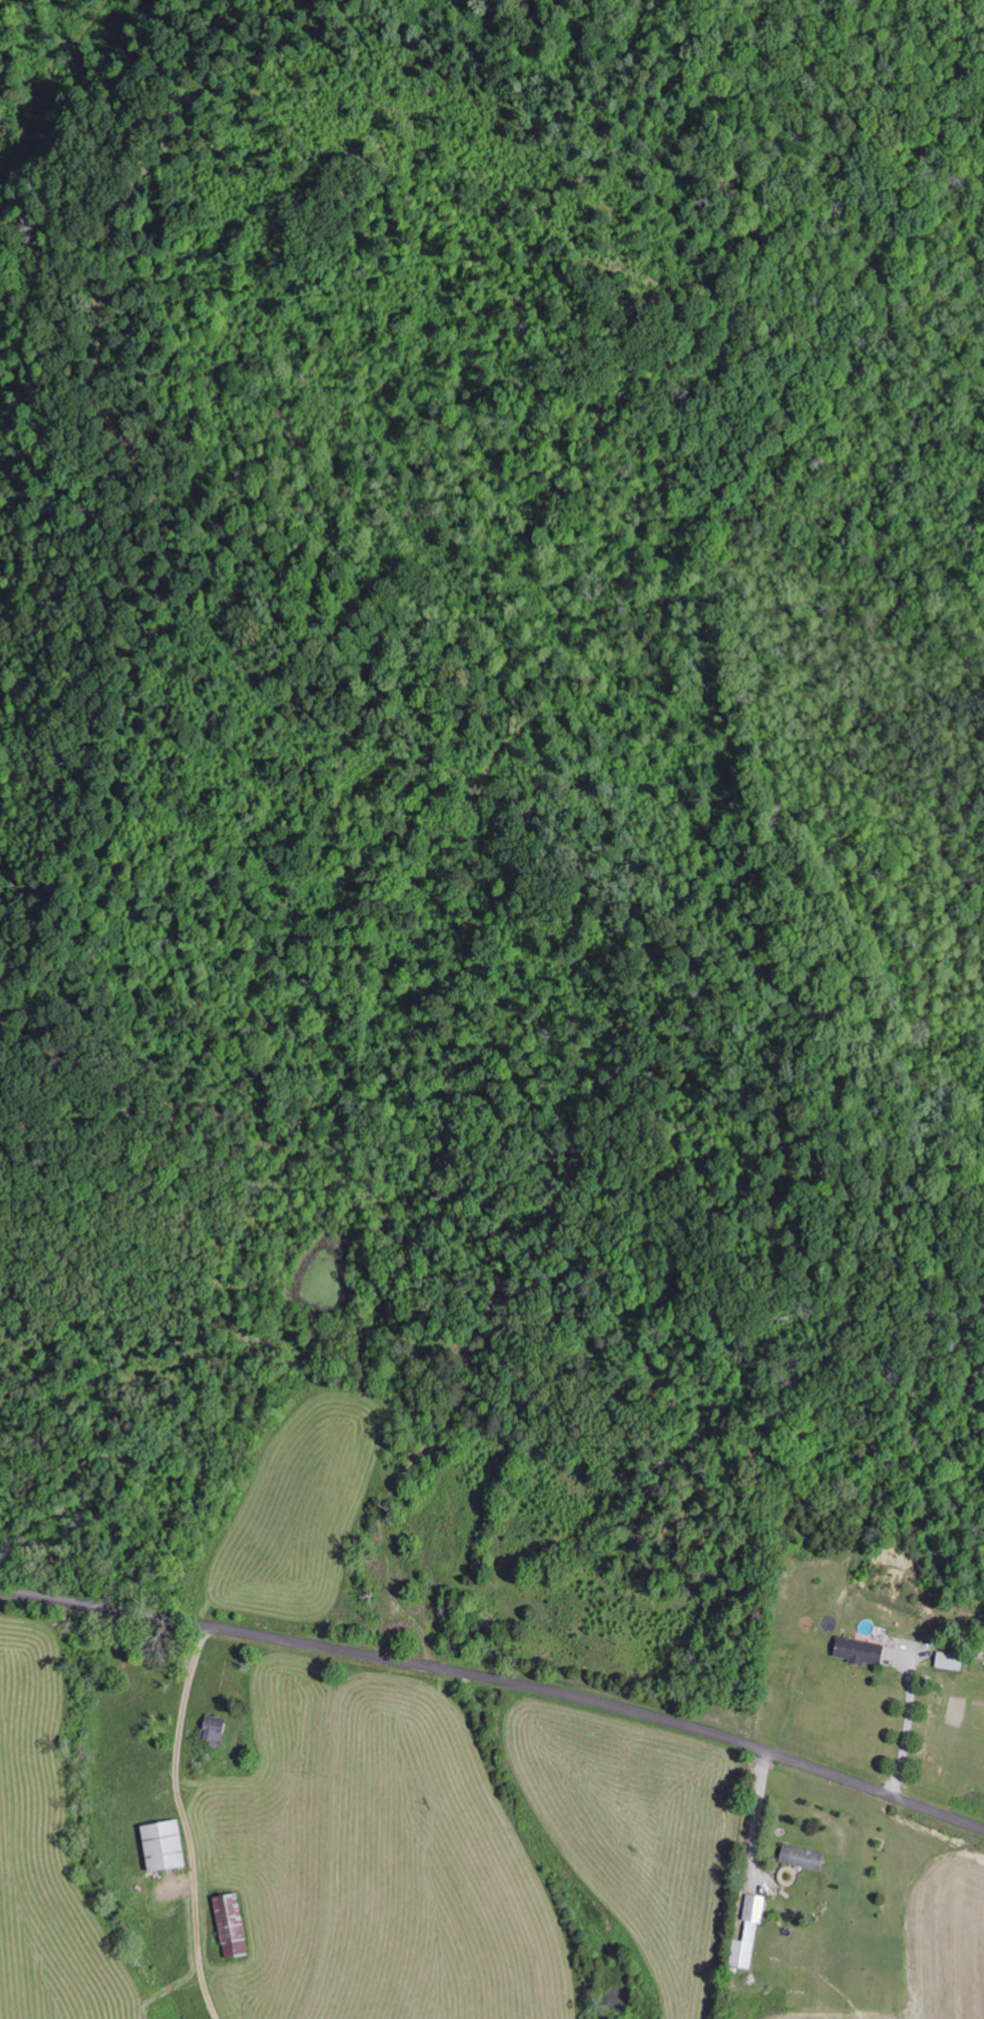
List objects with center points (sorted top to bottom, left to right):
building: (863, 1649)
building: (950, 1659)
road: (499, 1679)
building: (216, 1731)
building: (167, 1844)
building: (806, 1856)
building: (233, 1924)
building: (751, 1931)

